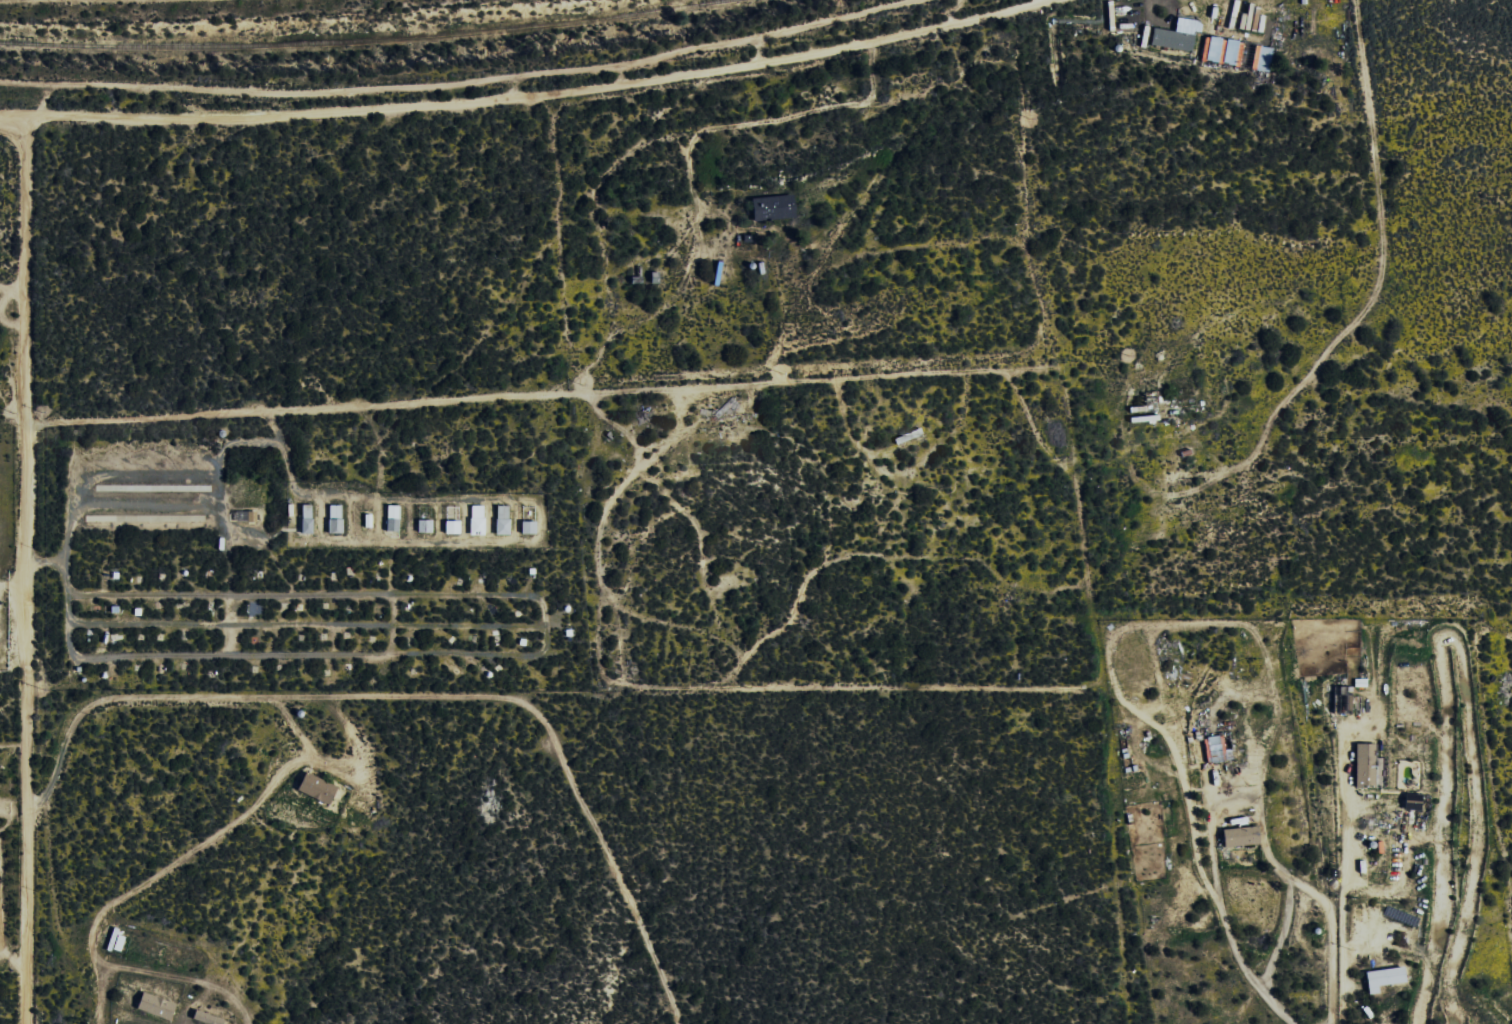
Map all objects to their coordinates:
building: (1169, 40)
railway: (357, 42)
building: (1221, 51)
building: (1260, 59)
road: (529, 95)
building: (777, 207)
building: (308, 518)
building: (394, 518)
building: (337, 519)
building: (479, 519)
building: (505, 519)
building: (426, 526)
building: (454, 526)
building: (530, 527)
road: (28, 568)
building: (1211, 749)
building: (1364, 766)
building: (320, 788)
building: (1237, 836)
building: (1382, 977)
building: (159, 1005)
building: (209, 1017)

